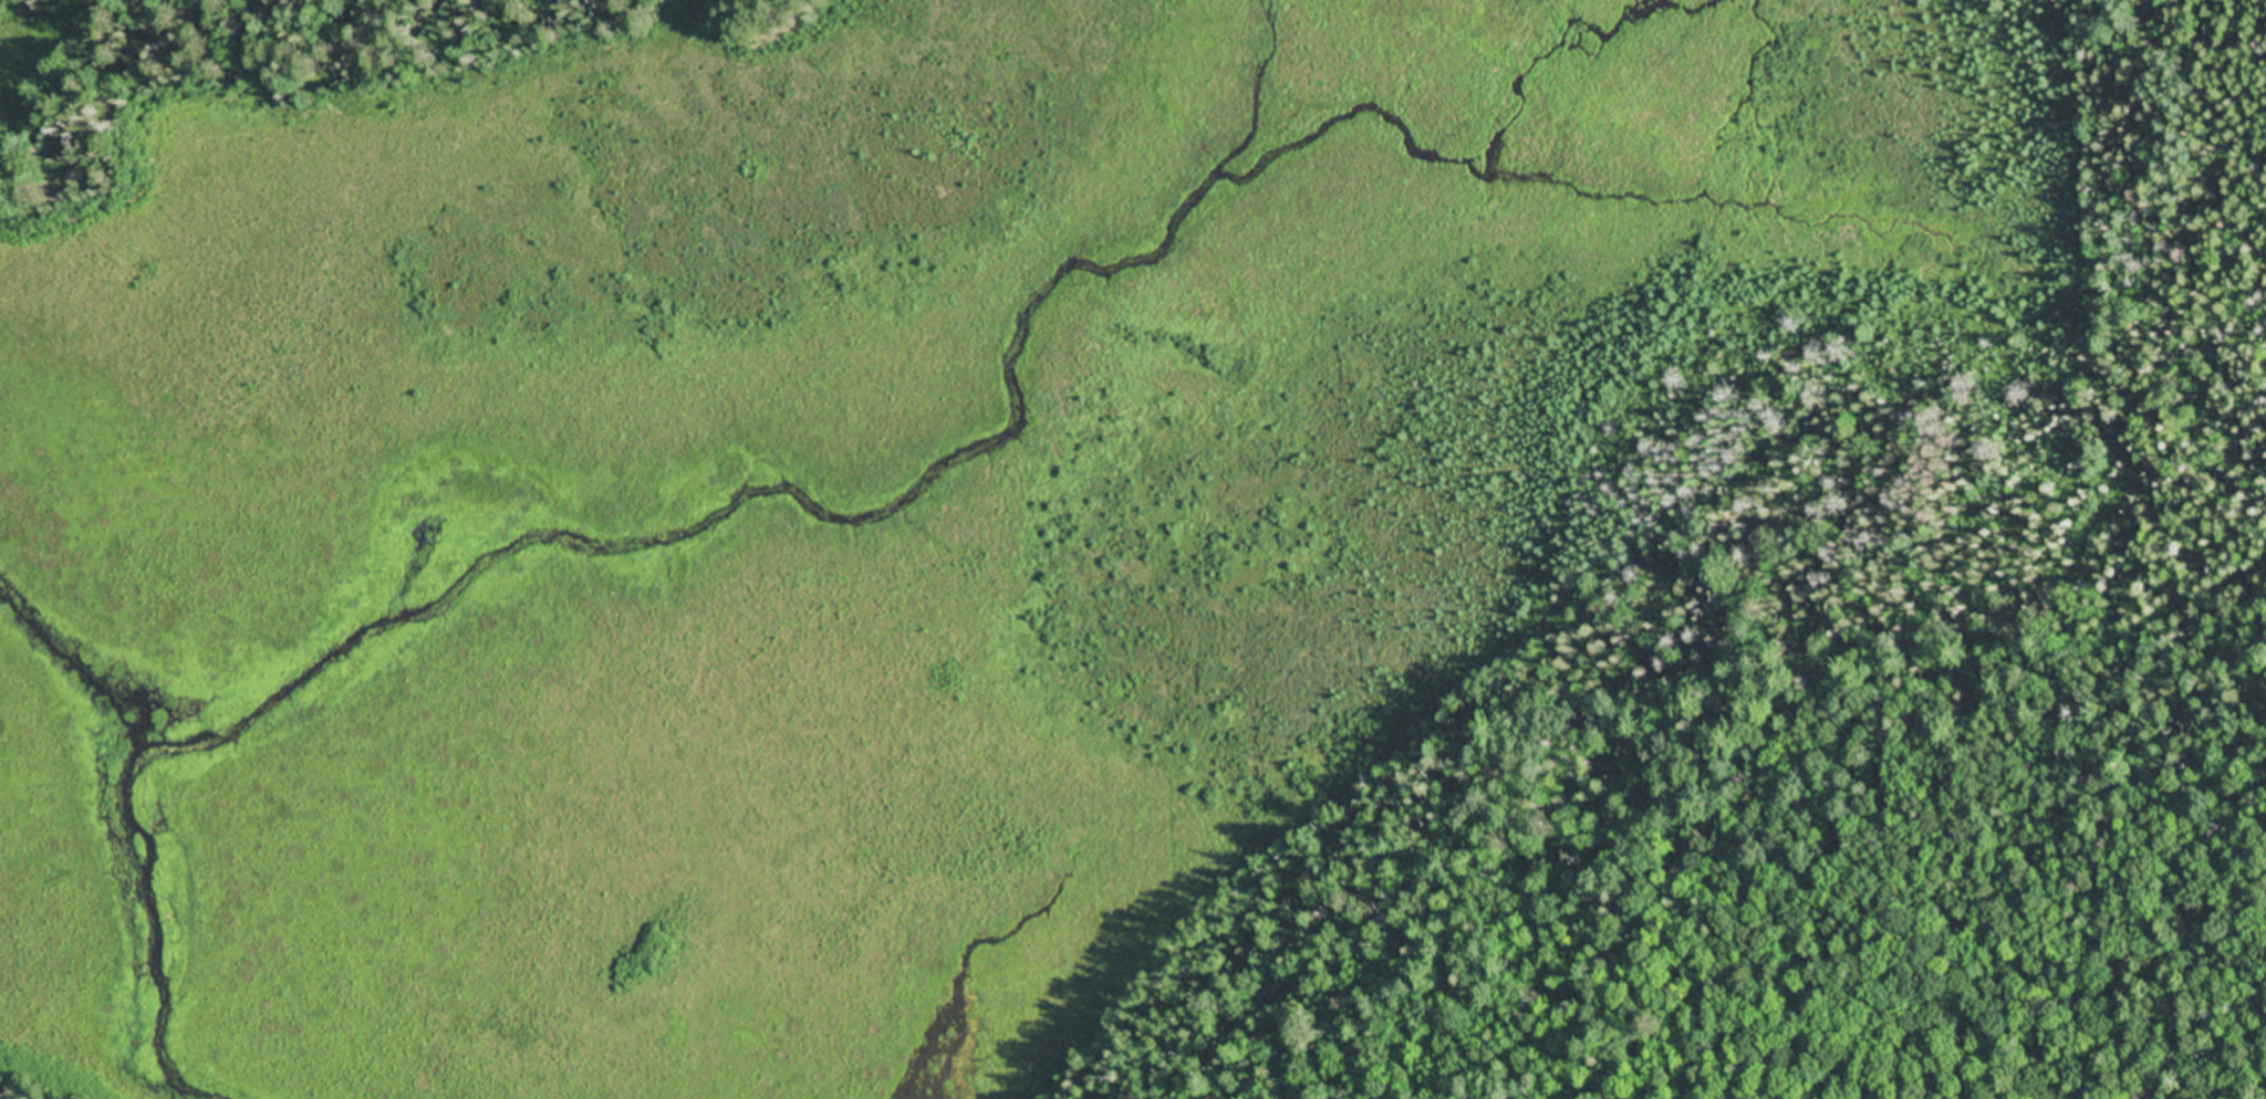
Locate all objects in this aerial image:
road: (1295, 1086)

